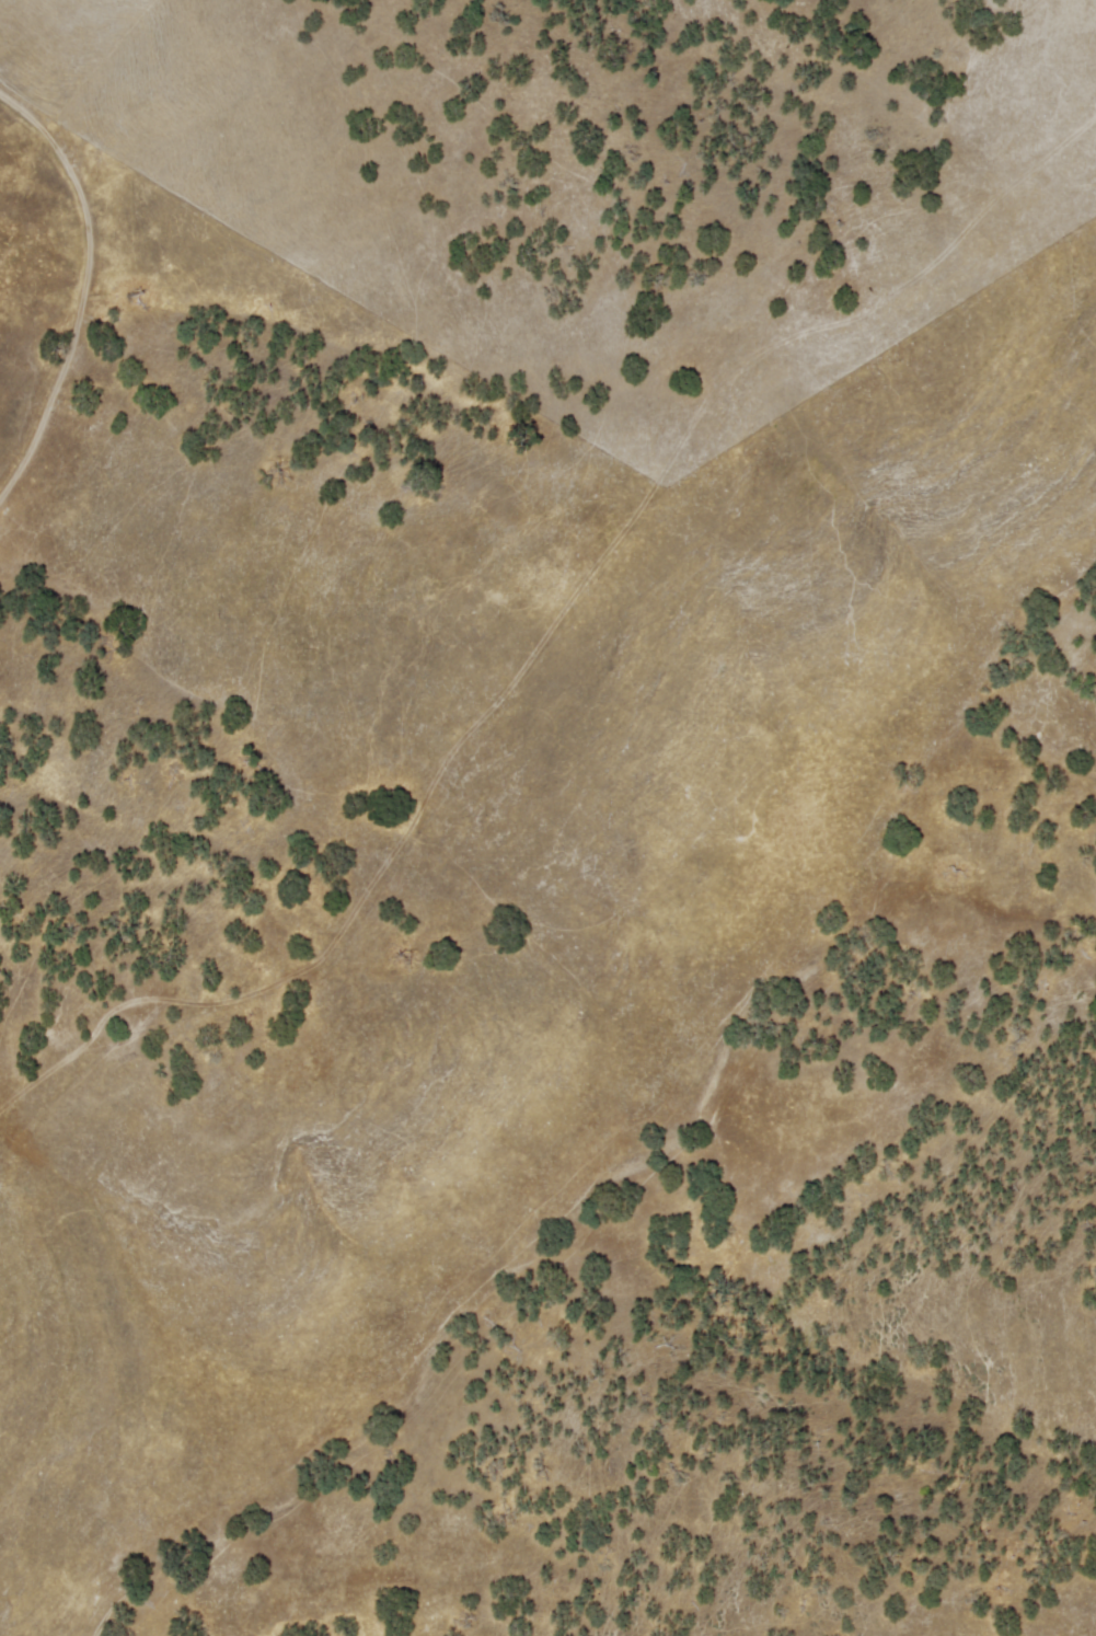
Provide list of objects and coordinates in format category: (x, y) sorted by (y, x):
road: (84, 287)

